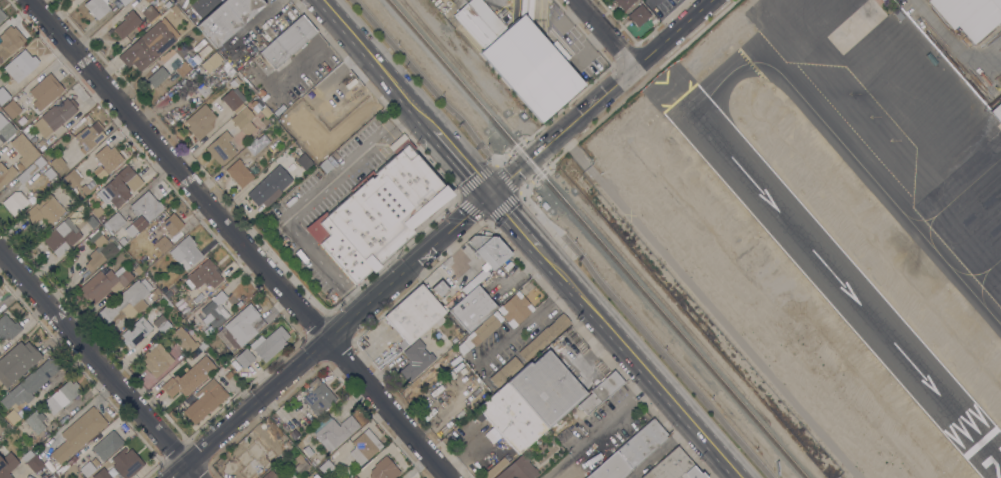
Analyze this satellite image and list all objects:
building: (68, 0)
building: (71, 0)
building: (124, 2)
building: (149, 2)
building: (435, 2)
building: (623, 3)
building: (114, 5)
building: (97, 7)
building: (200, 8)
building: (174, 9)
building: (149, 13)
building: (897, 14)
building: (638, 15)
building: (968, 15)
building: (2, 16)
building: (227, 19)
building: (478, 22)
building: (127, 24)
road: (944, 30)
road: (604, 32)
building: (9, 42)
building: (288, 42)
building: (148, 45)
building: (211, 63)
road: (378, 64)
building: (20, 66)
building: (531, 67)
building: (181, 71)
building: (157, 77)
building: (234, 82)
road: (425, 82)
building: (201, 88)
building: (45, 91)
building: (3, 95)
road: (598, 95)
building: (233, 100)
building: (353, 105)
building: (11, 108)
airport hangar: (997, 111)
building: (997, 111)
building: (55, 116)
building: (200, 121)
building: (243, 121)
airport apron: (898, 123)
building: (5, 129)
building: (89, 136)
building: (254, 146)
building: (220, 148)
building: (23, 150)
building: (294, 156)
building: (108, 157)
airport taxiway: (852, 159)
road: (461, 160)
building: (57, 162)
building: (19, 166)
building: (325, 166)
building: (99, 172)
building: (27, 173)
building: (239, 173)
building: (6, 174)
building: (49, 174)
building: (72, 178)
road: (507, 179)
building: (119, 187)
building: (268, 187)
building: (88, 188)
building: (74, 191)
building: (36, 194)
road: (306, 199)
building: (15, 202)
road: (469, 206)
building: (44, 210)
building: (143, 212)
building: (378, 213)
building: (108, 219)
road: (512, 219)
building: (91, 221)
airport: (830, 223)
building: (172, 224)
building: (61, 237)
road: (239, 239)
railway: (596, 239)
building: (122, 241)
building: (162, 244)
building: (101, 249)
building: (488, 250)
building: (185, 251)
building: (205, 275)
building: (474, 279)
airport runway: (839, 282)
building: (105, 284)
building: (439, 288)
building: (164, 290)
building: (124, 302)
building: (472, 308)
building: (515, 309)
building: (212, 311)
building: (414, 314)
building: (183, 323)
building: (8, 327)
building: (145, 327)
building: (240, 328)
building: (484, 328)
road: (645, 334)
road: (327, 336)
building: (543, 337)
building: (183, 340)
building: (269, 343)
building: (464, 346)
road: (92, 354)
building: (244, 358)
building: (156, 360)
building: (415, 360)
building: (17, 362)
road: (637, 362)
building: (505, 372)
building: (188, 378)
building: (29, 385)
building: (546, 388)
building: (600, 392)
building: (61, 397)
building: (318, 397)
building: (205, 401)
road: (444, 413)
building: (11, 417)
building: (512, 418)
building: (35, 421)
building: (333, 431)
road: (600, 431)
building: (78, 434)
building: (293, 434)
building: (286, 442)
building: (107, 445)
building: (364, 447)
building: (304, 448)
building: (630, 451)
building: (260, 460)
building: (32, 461)
building: (126, 462)
building: (300, 464)
building: (7, 465)
building: (670, 465)
building: (86, 468)
road: (192, 468)
building: (326, 468)
building: (495, 468)
building: (383, 469)
building: (519, 469)
building: (102, 474)
building: (692, 474)
building: (269, 475)
building: (51, 476)
building: (315, 476)
building: (353, 477)

